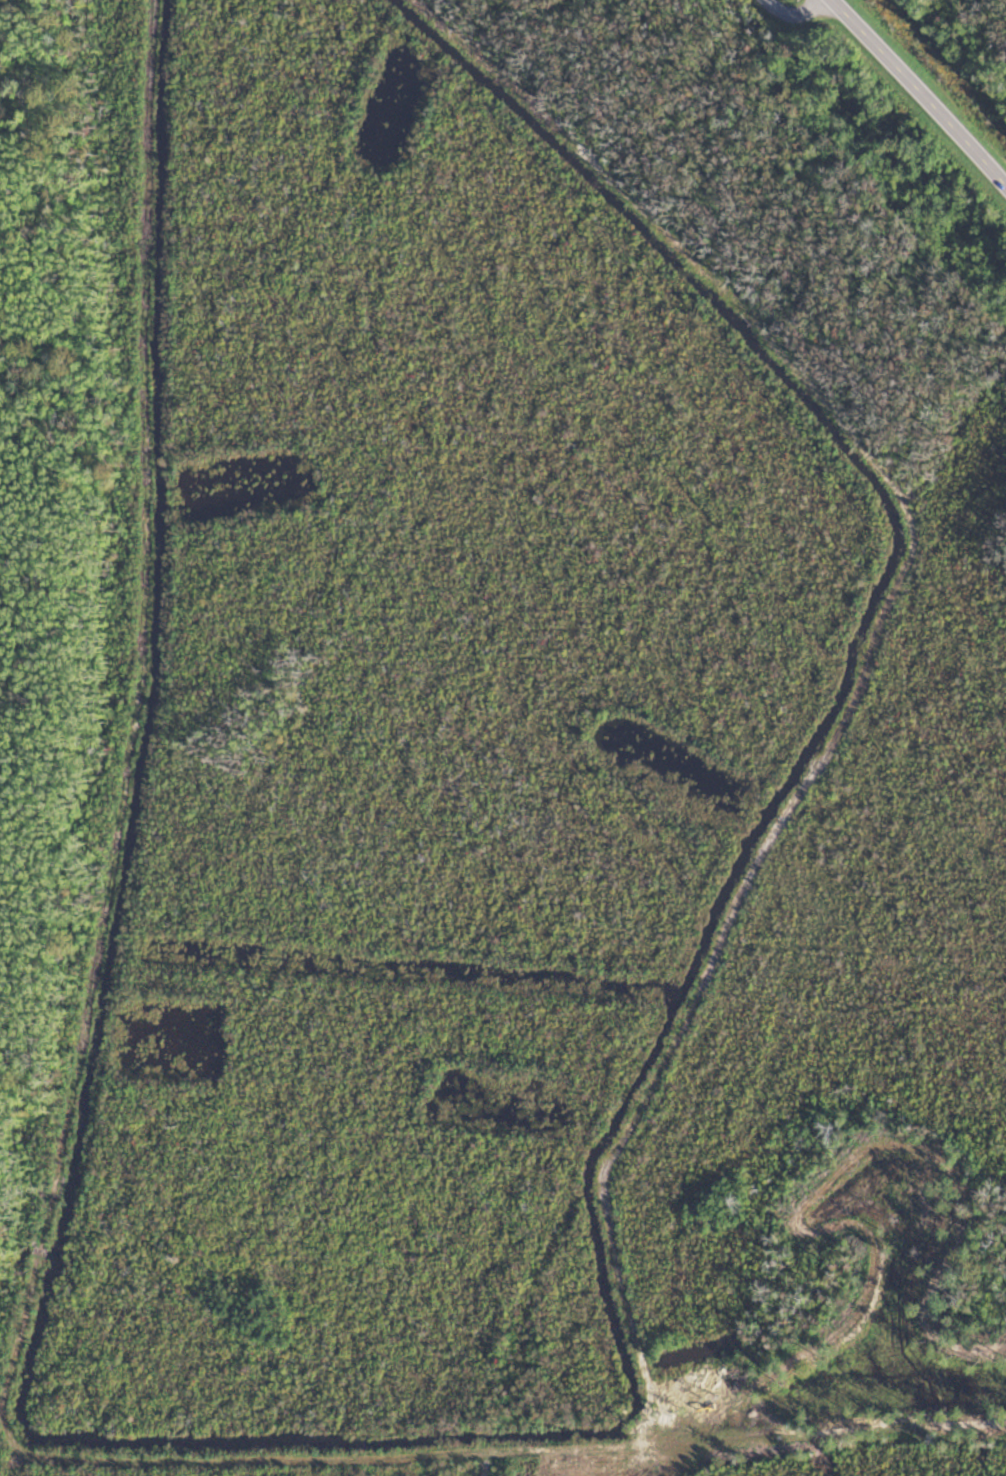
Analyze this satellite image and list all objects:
road: (797, 12)
road: (926, 84)

